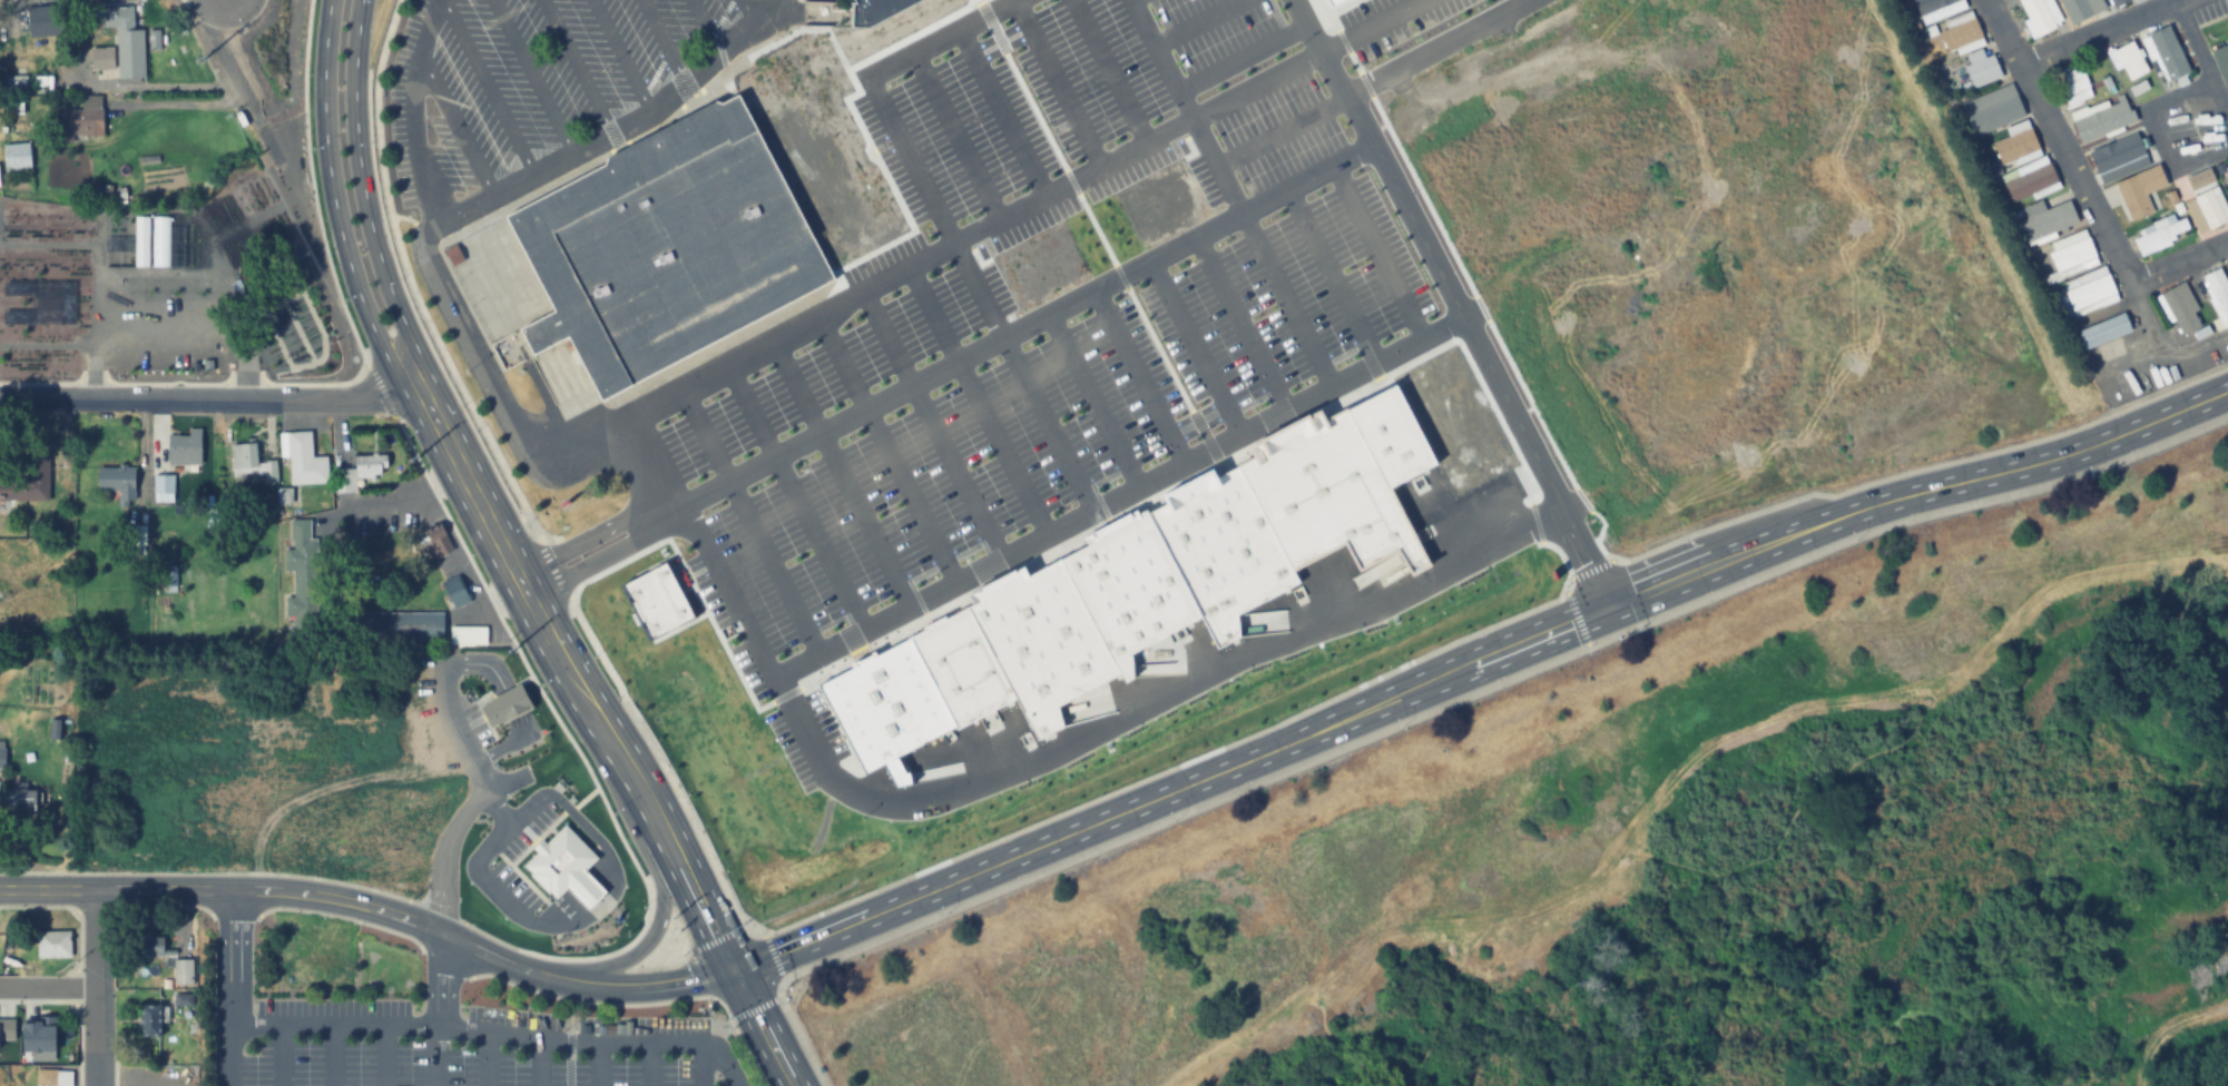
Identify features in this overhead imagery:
building: (1329, 1)
building: (2116, 1)
building: (2080, 8)
building: (874, 9)
building: (1937, 9)
road: (747, 10)
building: (2040, 16)
building: (45, 21)
road: (705, 24)
road: (1200, 24)
road: (1372, 26)
building: (1960, 32)
road: (2101, 37)
building: (125, 39)
road: (660, 41)
building: (2166, 52)
road: (620, 56)
road: (1240, 56)
building: (102, 59)
building: (2127, 59)
power tower: (199, 61)
building: (2220, 61)
road: (576, 66)
road: (1106, 70)
building: (1981, 70)
road: (530, 77)
road: (1371, 81)
road: (1054, 82)
building: (2074, 83)
building: (43, 85)
road: (484, 87)
building: (14, 95)
building: (1992, 110)
road: (413, 111)
road: (999, 111)
building: (2101, 119)
building: (77, 125)
road: (455, 125)
road: (954, 134)
road: (2052, 144)
road: (1136, 145)
building: (2015, 146)
building: (17, 156)
building: (2226, 169)
building: (2130, 177)
building: (2029, 179)
road: (364, 189)
road: (1228, 192)
road: (334, 197)
building: (2209, 207)
building: (2045, 220)
road: (433, 227)
building: (2160, 233)
building: (666, 247)
road: (1377, 253)
building: (2070, 256)
road: (2177, 265)
road: (1332, 276)
building: (2084, 294)
building: (2216, 294)
road: (1453, 305)
building: (2179, 307)
road: (1241, 324)
building: (2103, 330)
road: (1007, 336)
road: (1194, 348)
road: (1140, 376)
road: (209, 399)
road: (975, 399)
road: (1091, 402)
road: (1038, 403)
road: (931, 422)
road: (884, 447)
building: (187, 450)
building: (244, 453)
building: (305, 460)
power tower: (411, 460)
building: (370, 464)
road: (840, 470)
building: (38, 472)
building: (118, 482)
building: (164, 483)
building: (13, 487)
road: (791, 495)
building: (1302, 502)
road: (747, 519)
building: (138, 537)
road: (576, 537)
building: (435, 540)
road: (701, 542)
road: (585, 561)
building: (305, 569)
building: (169, 580)
building: (454, 590)
building: (659, 599)
building: (1086, 614)
building: (402, 625)
building: (468, 634)
power tower: (509, 650)
building: (958, 664)
road: (2208, 664)
road: (1478, 667)
road: (569, 677)
road: (1444, 702)
building: (504, 703)
building: (883, 703)
road: (1145, 703)
building: (2, 753)
building: (18, 804)
road: (452, 836)
park: (1662, 842)
road: (1679, 849)
building: (565, 867)
road: (375, 908)
road: (655, 927)
power tower: (679, 929)
building: (52, 942)
building: (143, 944)
building: (2207, 968)
traffic signals: (739, 974)
road: (230, 986)
road: (98, 987)
road: (438, 1010)
building: (149, 1020)
building: (7, 1028)
road: (768, 1029)
road: (497, 1031)
road: (2166, 1033)
building: (37, 1035)
road: (279, 1055)
road: (332, 1055)
road: (383, 1055)
road: (487, 1058)
road: (537, 1063)
road: (599, 1065)
road: (648, 1065)
road: (698, 1065)
building: (48, 1077)

